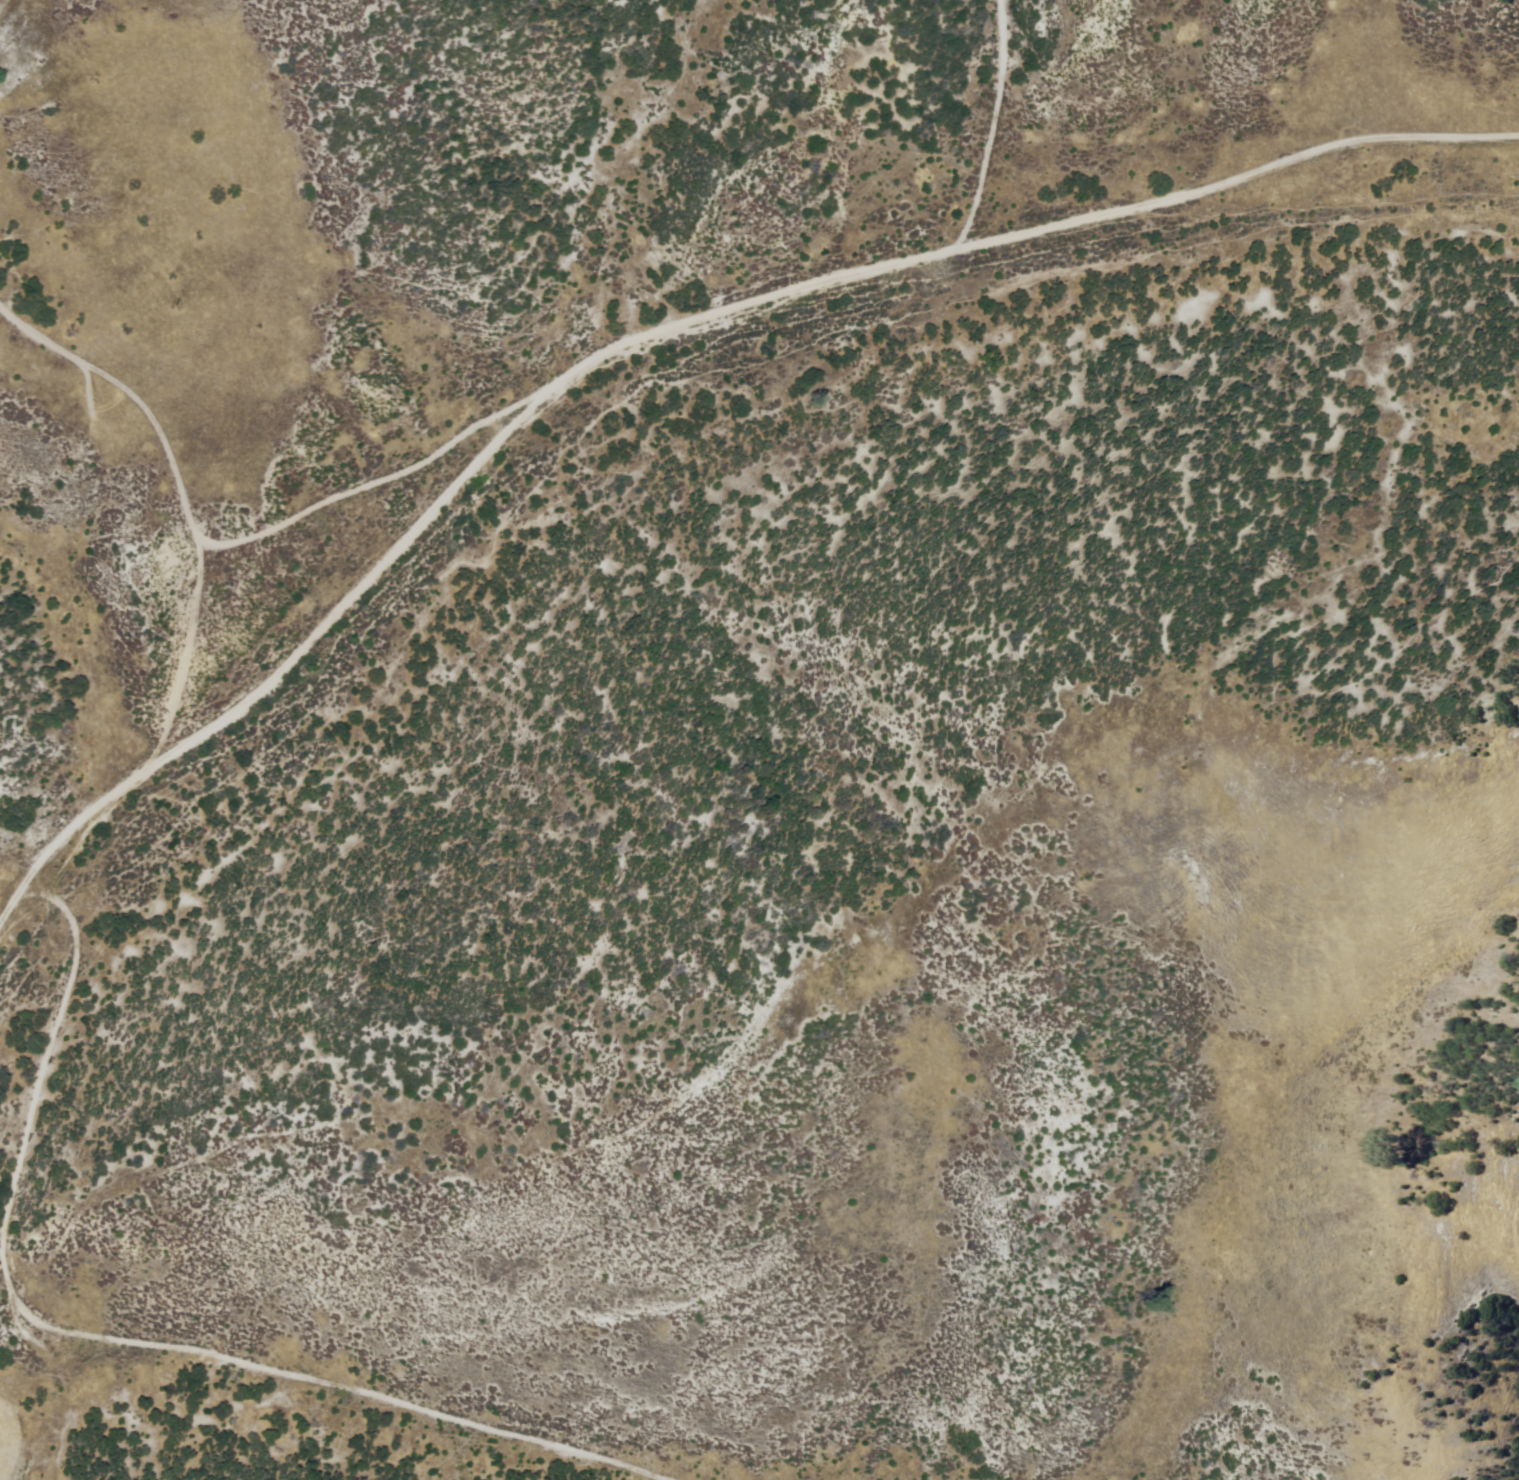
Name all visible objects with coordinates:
road: (7, 3)
road: (913, 111)
road: (812, 250)
road: (164, 584)
road: (243, 634)
road: (41, 1061)
road: (253, 1398)

